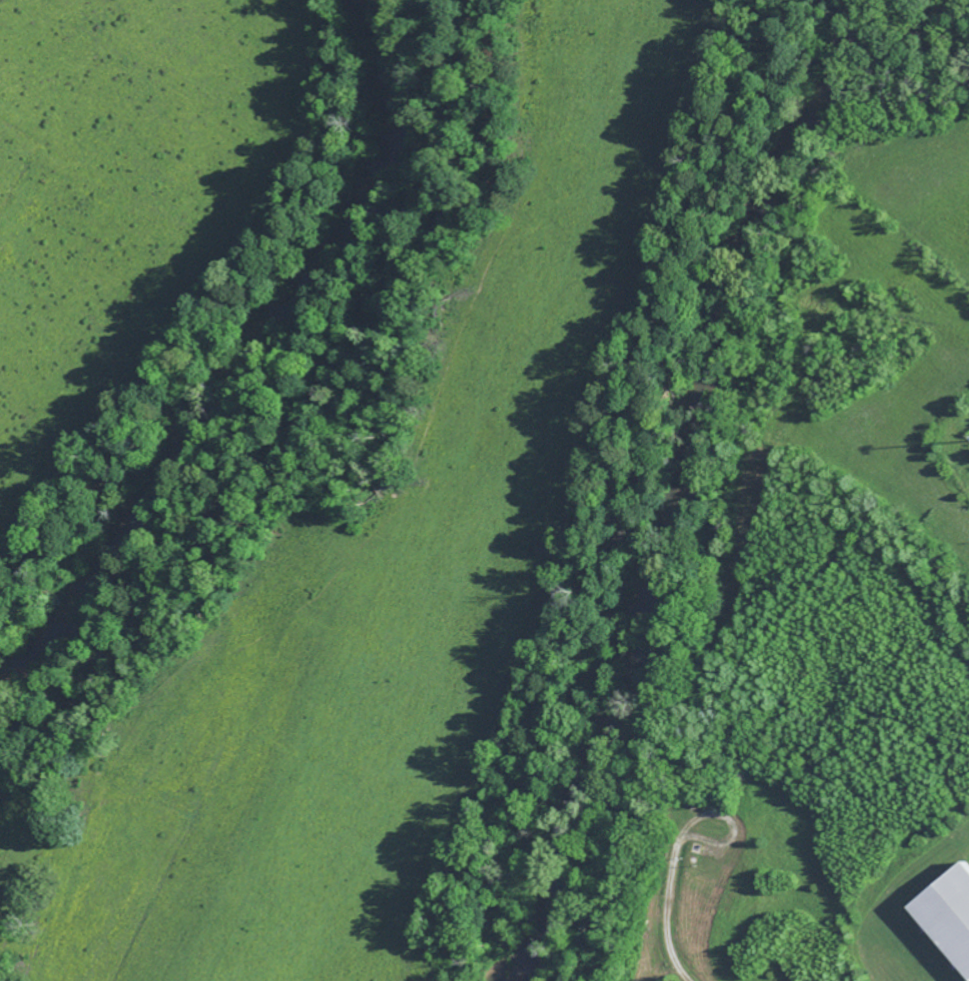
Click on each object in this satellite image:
building: (944, 920)

